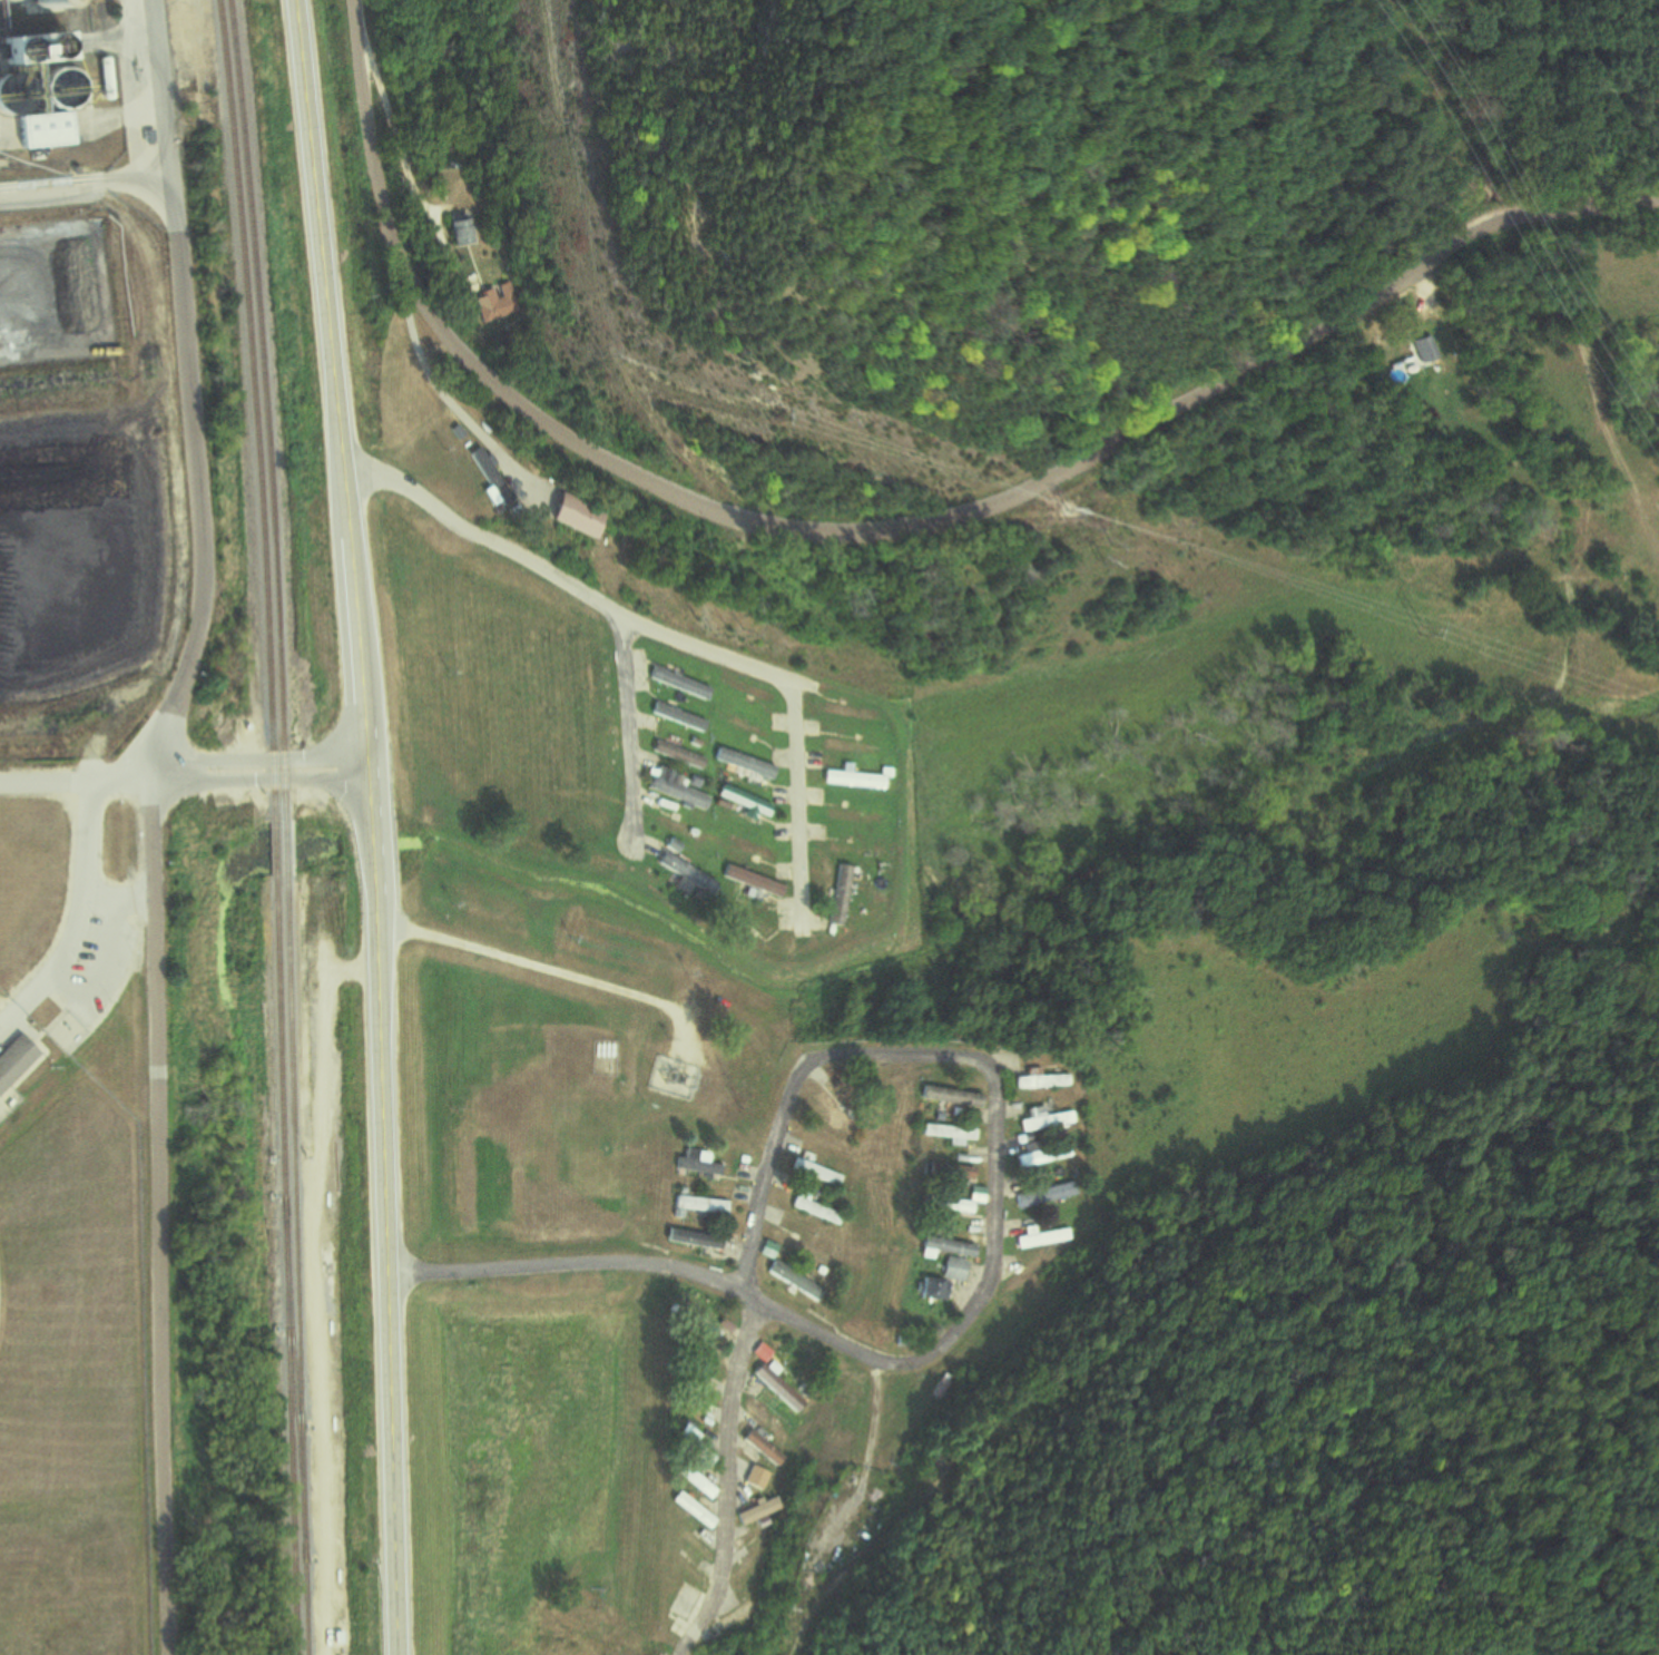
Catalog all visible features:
power plant: (82, 382)
road: (434, 386)
railway: (255, 410)
railway: (265, 410)
power tower: (1060, 516)
road: (886, 531)
power tower: (1098, 565)
power tower: (1419, 631)
road: (679, 640)
road: (630, 741)
road: (255, 761)
road: (258, 780)
road: (73, 783)
road: (149, 822)
road: (369, 825)
railway: (274, 849)
railway: (286, 849)
road: (529, 958)
power substation: (671, 1079)
power tower: (735, 1096)
road: (756, 1205)
railway: (296, 1265)
railway: (285, 1266)
road: (925, 1358)
road: (728, 1482)
road: (915, 1500)

